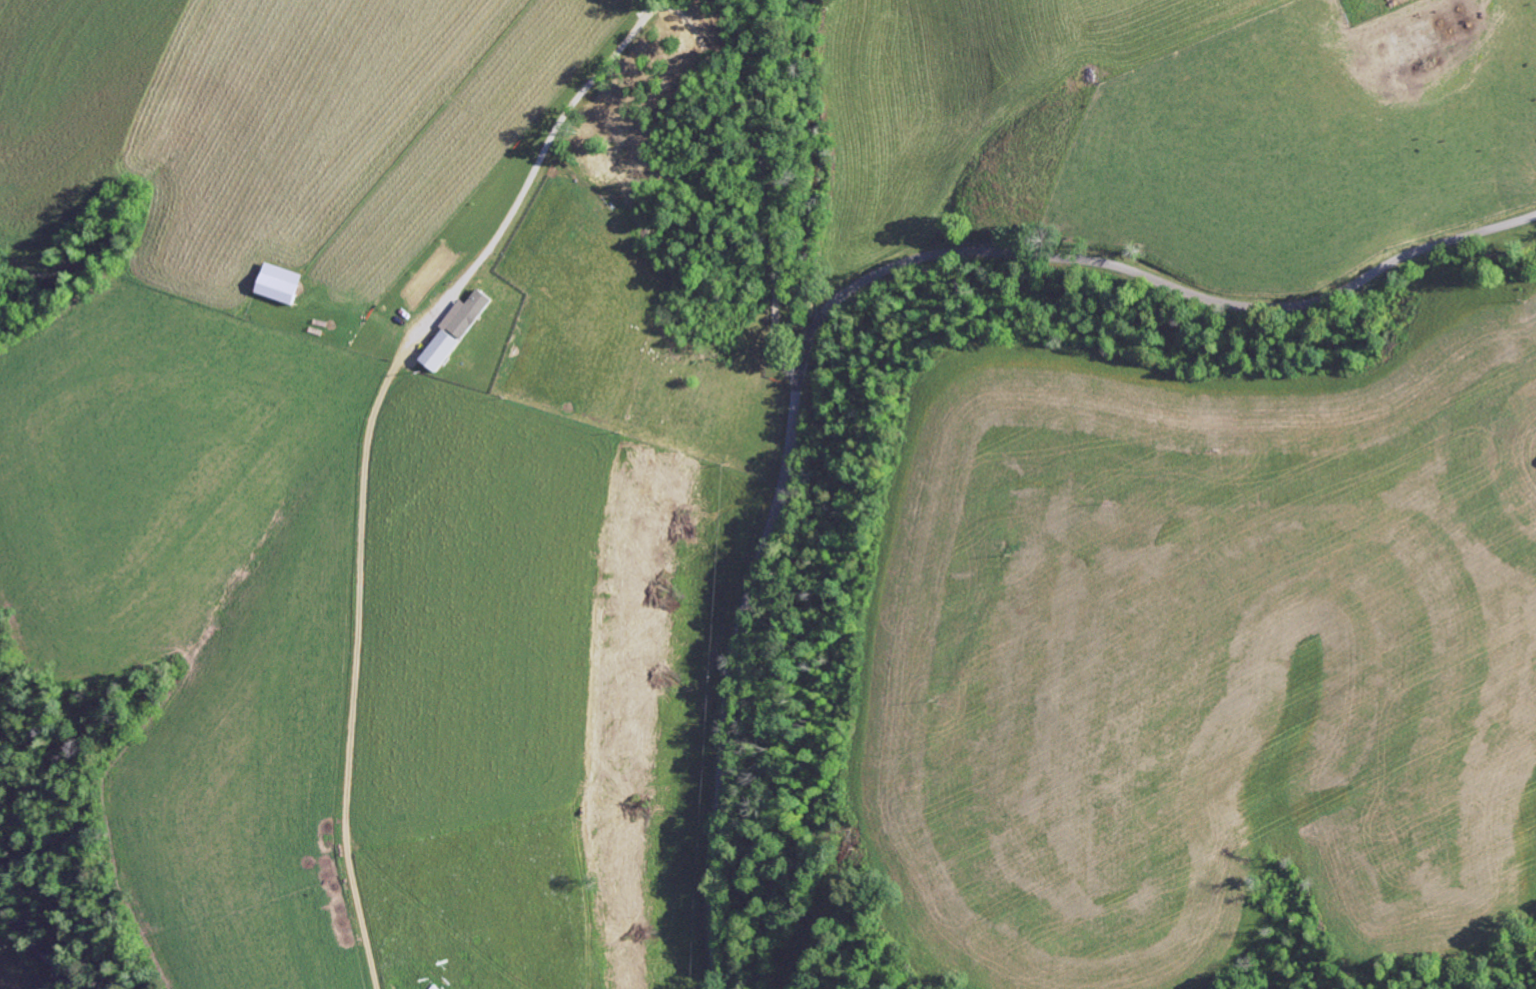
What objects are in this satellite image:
road: (654, 8)
road: (847, 290)
building: (452, 327)
road: (355, 665)

